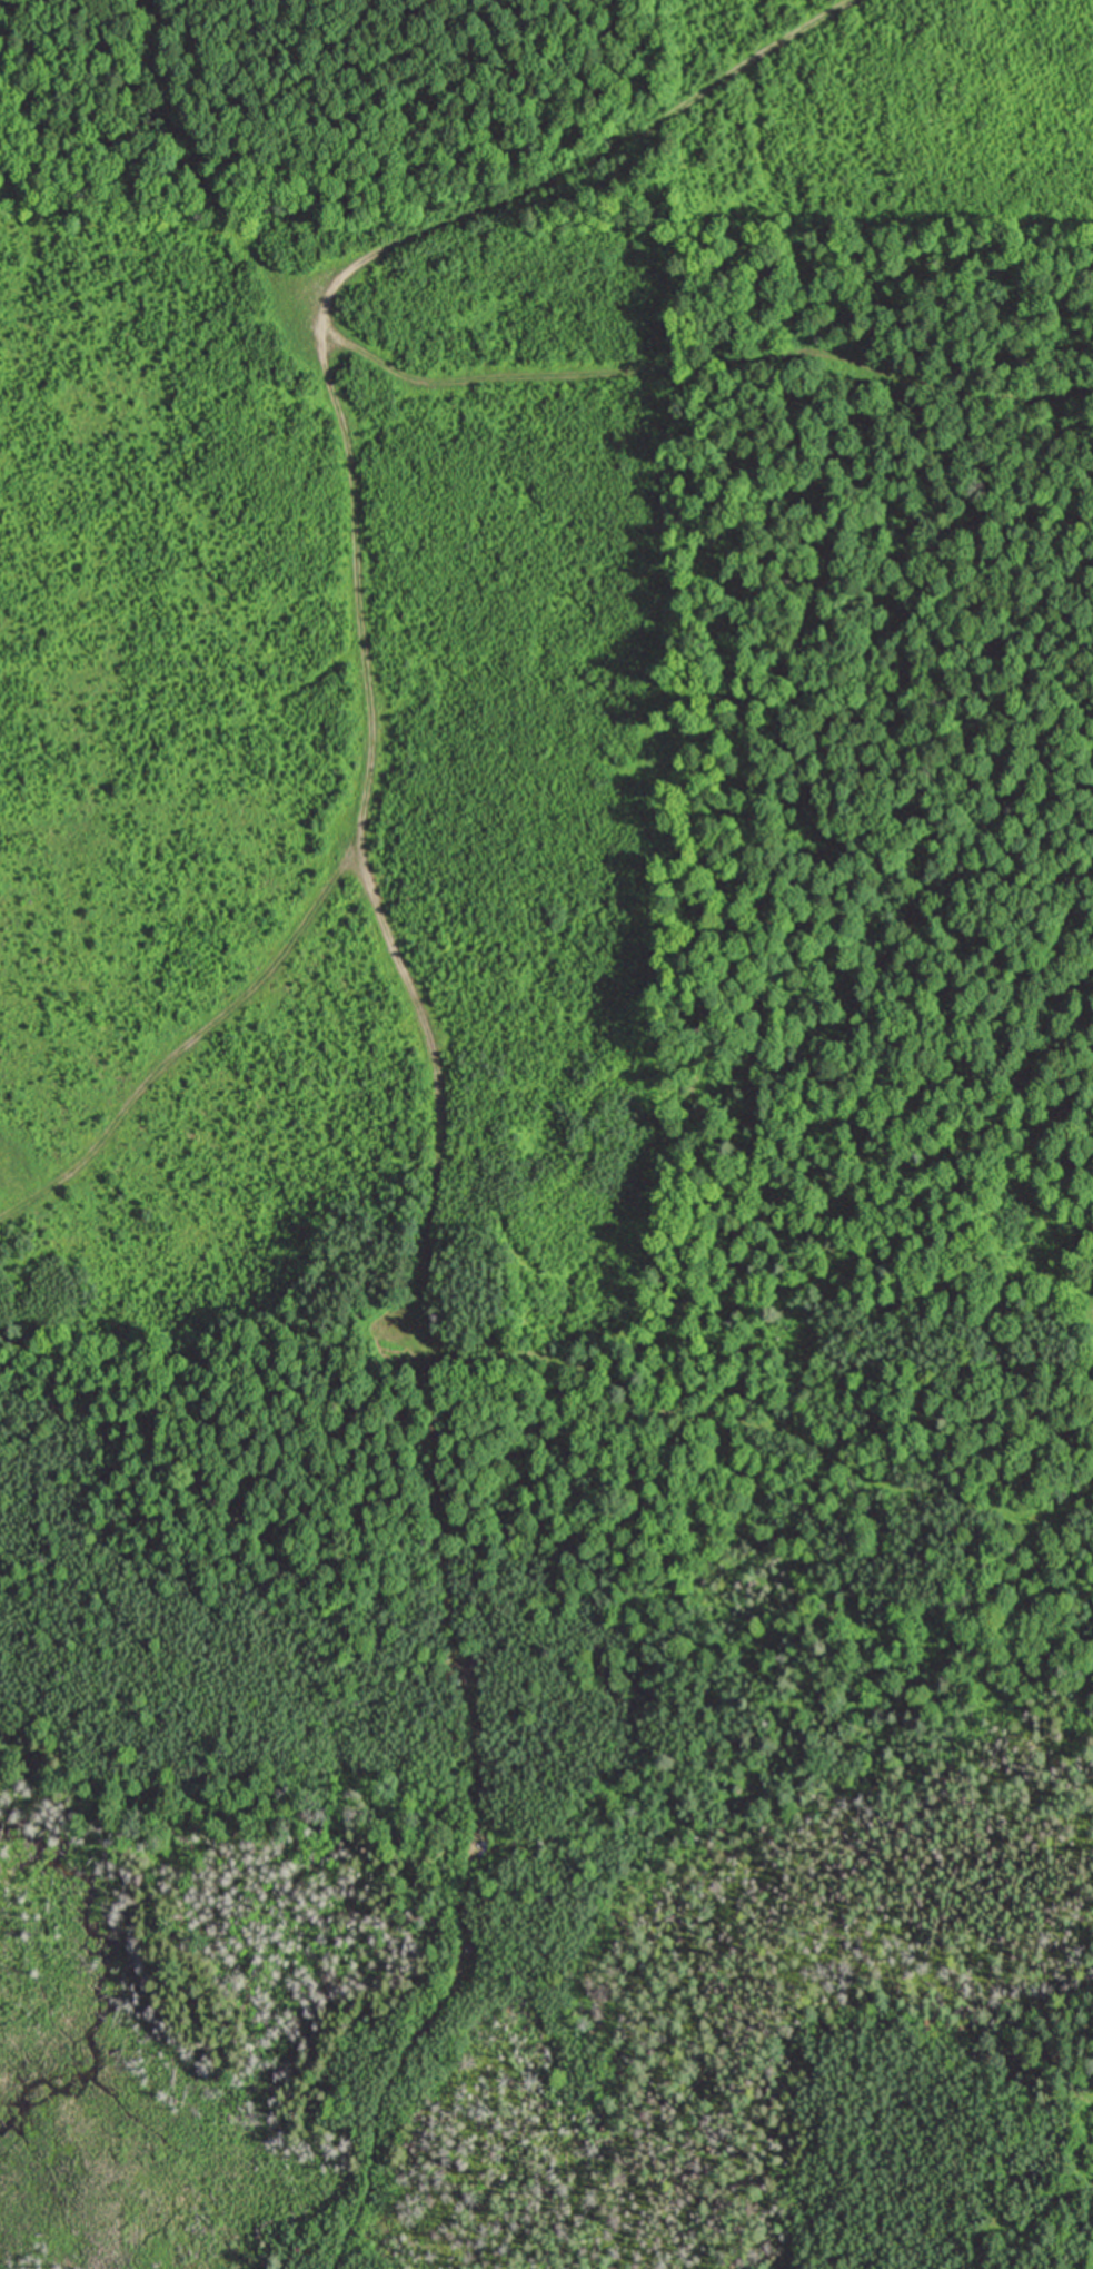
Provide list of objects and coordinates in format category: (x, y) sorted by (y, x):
road: (201, 177)
road: (350, 533)
road: (525, 1359)
road: (474, 1816)

